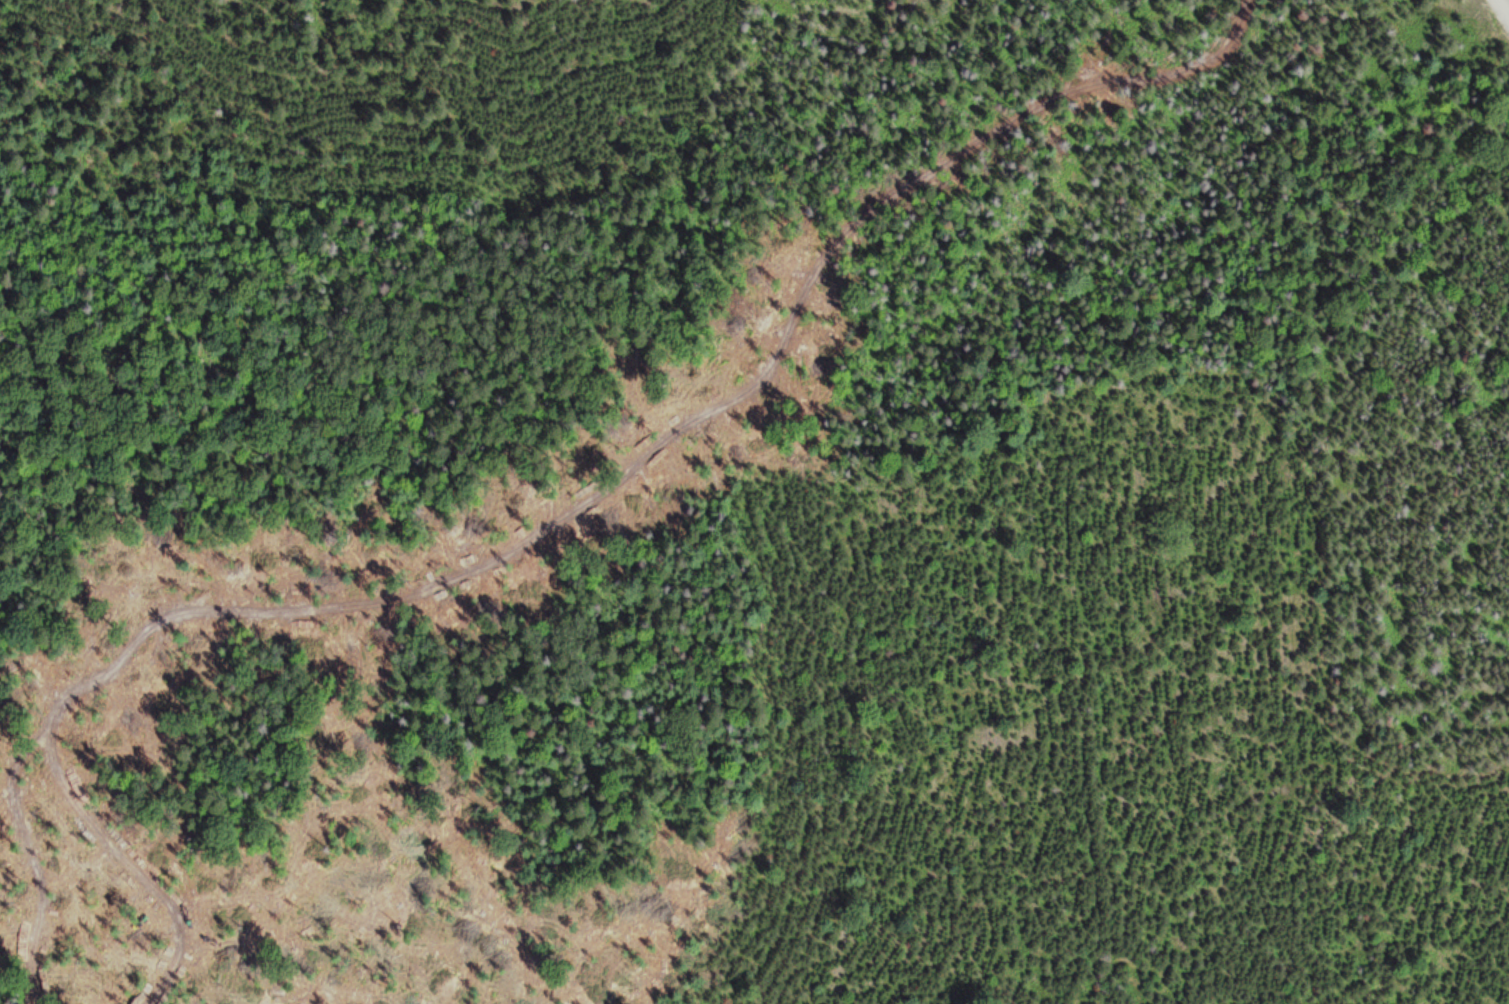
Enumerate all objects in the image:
road: (1505, 4)
road: (170, 426)
road: (308, 927)

